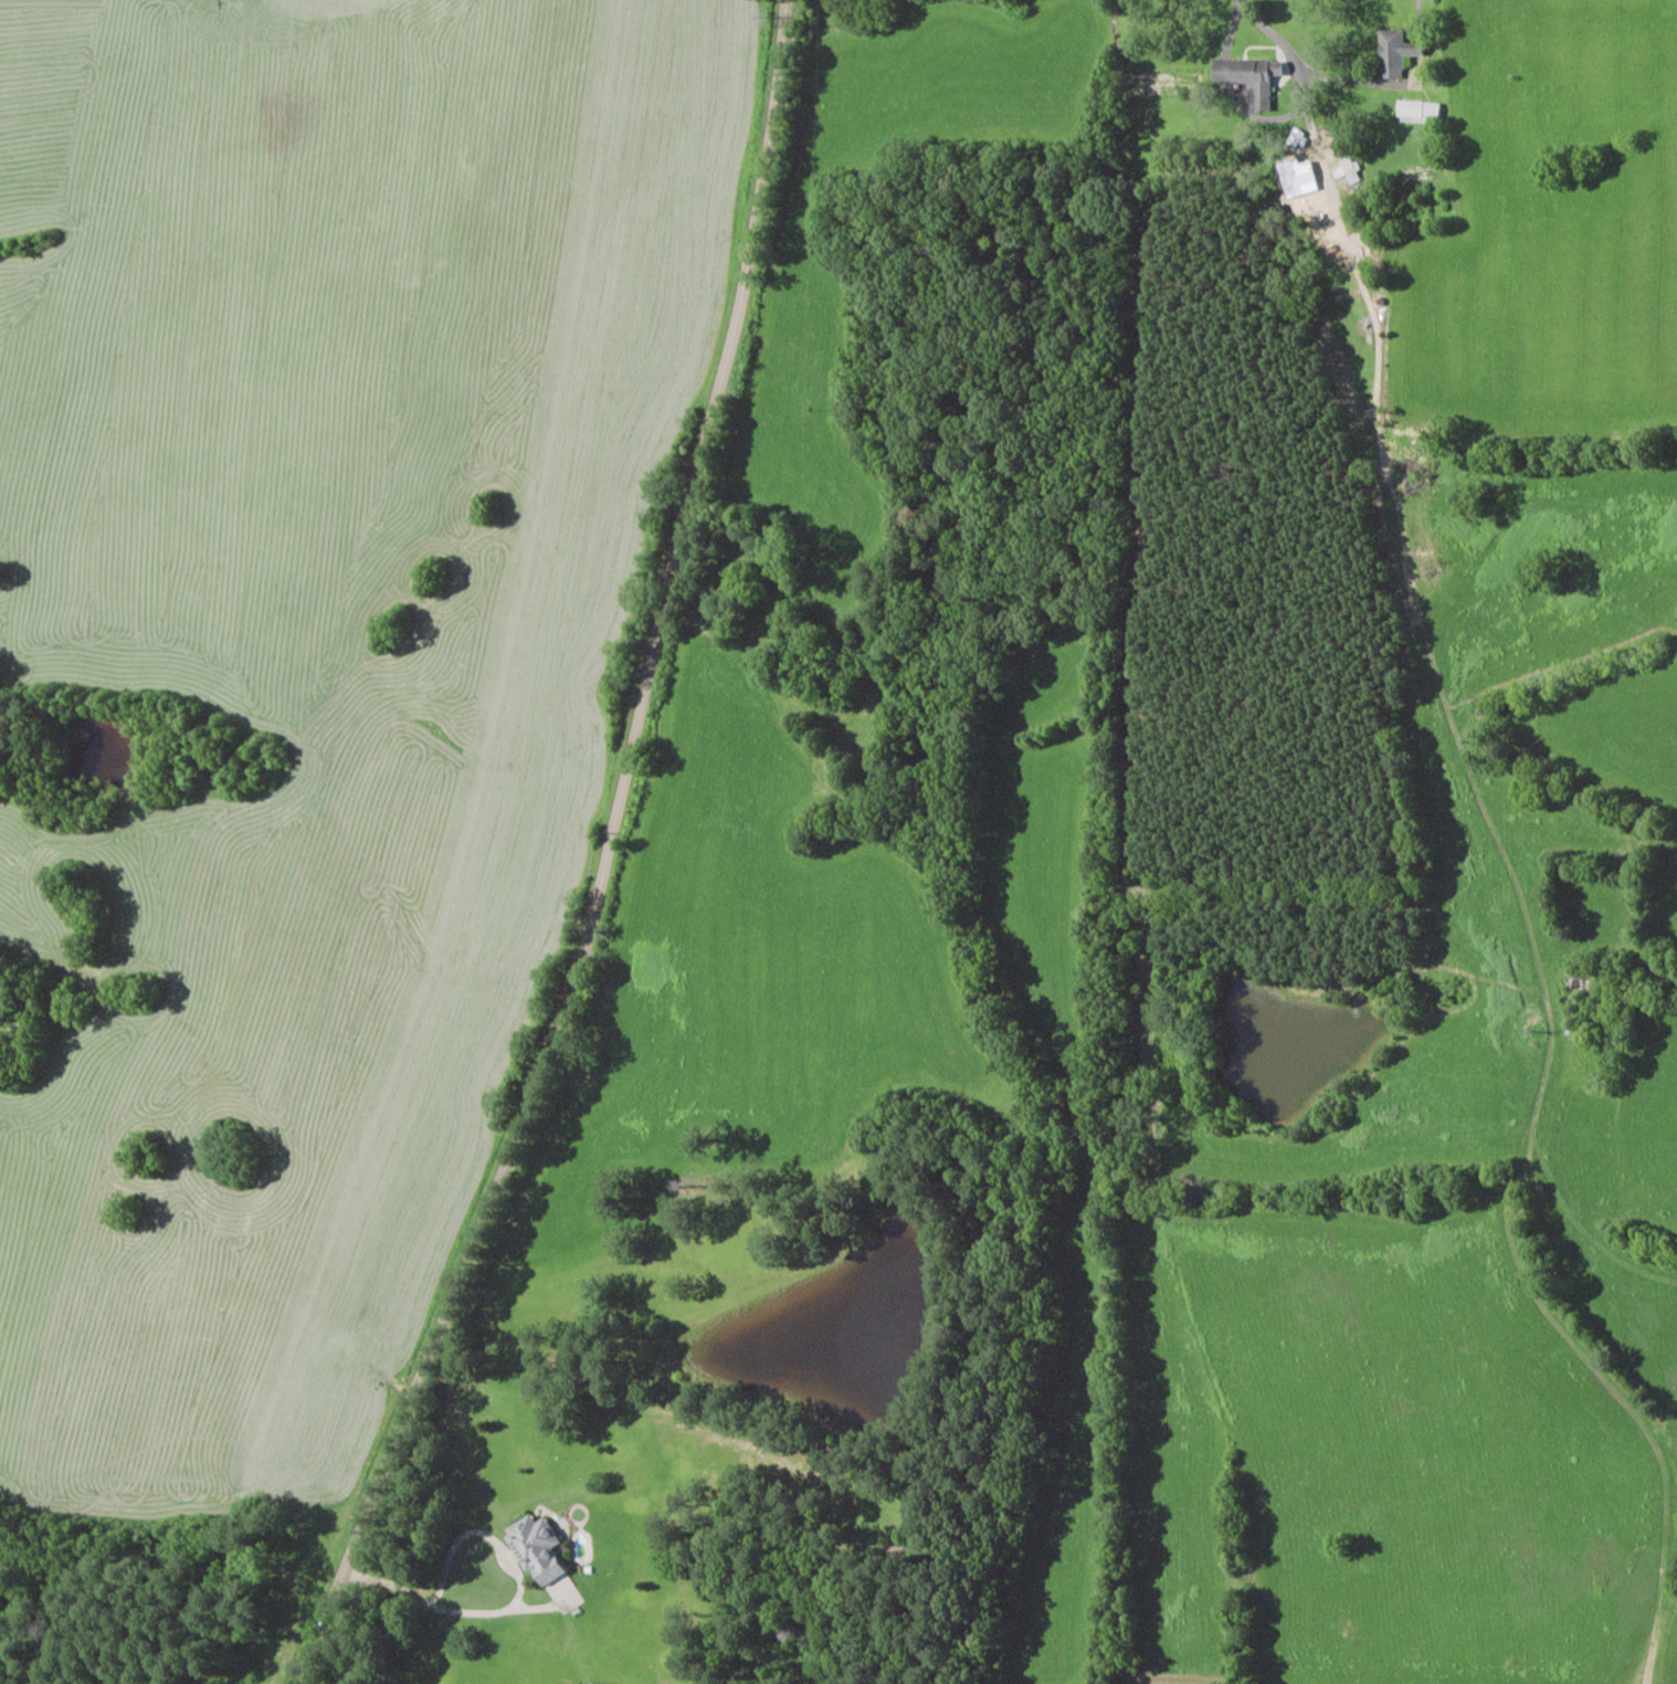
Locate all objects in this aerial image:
building: (1396, 52)
building: (1252, 76)
building: (1420, 110)
building: (1298, 138)
building: (1349, 168)
building: (1298, 173)
road: (1490, 750)
road: (605, 863)
building: (545, 1559)

